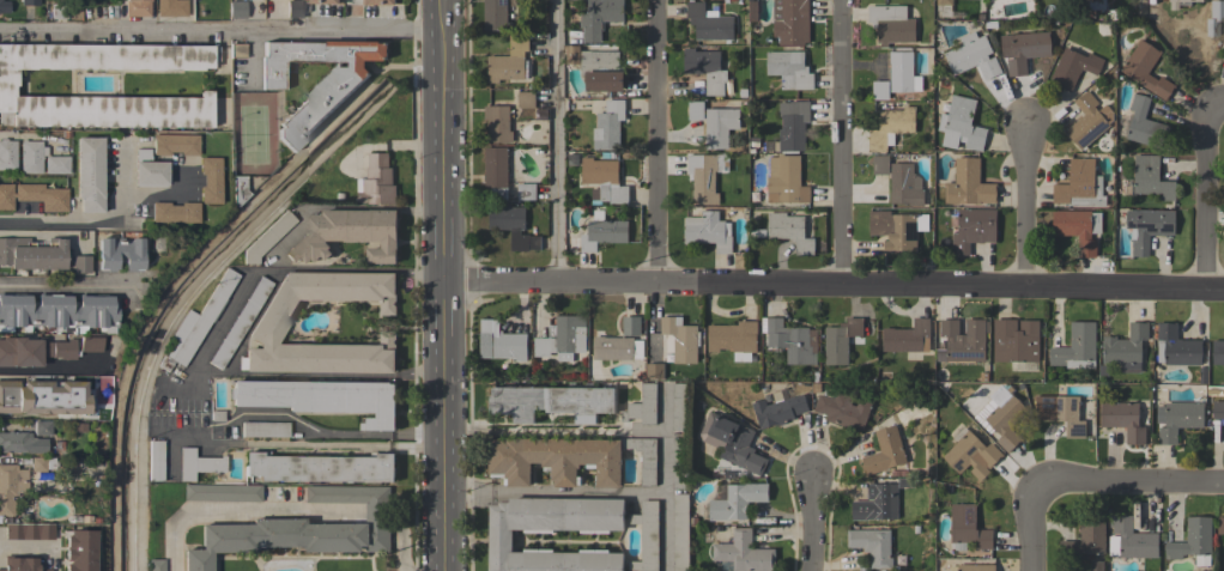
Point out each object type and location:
road: (437, 0)
building: (327, 1)
building: (378, 2)
building: (1181, 2)
building: (0, 4)
building: (1097, 5)
building: (943, 7)
building: (137, 8)
building: (170, 8)
building: (293, 8)
building: (236, 10)
building: (57, 11)
building: (495, 14)
building: (599, 18)
building: (1214, 18)
building: (790, 22)
building: (707, 23)
building: (891, 24)
road: (218, 30)
building: (1024, 49)
building: (236, 50)
building: (972, 56)
building: (509, 60)
building: (1073, 67)
building: (705, 68)
building: (789, 69)
building: (1146, 69)
building: (602, 71)
building: (902, 73)
building: (6, 89)
building: (879, 90)
building: (526, 99)
building: (315, 107)
building: (695, 110)
building: (1089, 120)
building: (497, 123)
building: (961, 124)
building: (1145, 124)
building: (608, 126)
building: (792, 126)
building: (719, 127)
building: (890, 127)
building: (175, 144)
road: (561, 144)
road: (660, 144)
road: (842, 146)
building: (7, 154)
building: (31, 157)
building: (56, 164)
building: (880, 165)
building: (147, 169)
building: (495, 171)
building: (87, 174)
building: (703, 177)
building: (1151, 178)
building: (602, 180)
building: (784, 180)
building: (208, 181)
building: (376, 181)
building: (904, 184)
building: (969, 184)
building: (1080, 186)
building: (236, 189)
building: (526, 192)
building: (34, 196)
road: (1208, 200)
building: (172, 212)
road: (1028, 213)
road: (95, 225)
building: (511, 225)
building: (1078, 227)
building: (1147, 227)
building: (974, 229)
building: (893, 230)
building: (602, 231)
building: (708, 231)
building: (790, 231)
building: (347, 235)
building: (266, 237)
building: (119, 253)
building: (31, 254)
building: (79, 265)
road: (62, 285)
road: (440, 286)
road: (831, 291)
building: (56, 310)
building: (194, 323)
building: (238, 323)
building: (269, 323)
building: (630, 326)
building: (908, 336)
building: (563, 338)
building: (733, 339)
road: (208, 340)
building: (841, 340)
building: (963, 340)
building: (499, 341)
building: (677, 341)
building: (792, 341)
building: (90, 344)
building: (1016, 344)
building: (1126, 345)
building: (1176, 346)
building: (1077, 347)
building: (617, 348)
building: (61, 350)
building: (22, 352)
building: (1218, 352)
building: (654, 370)
building: (42, 396)
building: (320, 399)
building: (552, 401)
building: (642, 406)
building: (842, 408)
building: (1218, 409)
building: (778, 411)
building: (1062, 413)
building: (1005, 417)
building: (1122, 419)
building: (1180, 420)
building: (77, 427)
building: (42, 429)
building: (263, 429)
road: (328, 431)
road: (552, 432)
building: (680, 432)
building: (732, 442)
building: (20, 443)
road: (295, 444)
building: (884, 451)
building: (970, 454)
building: (153, 460)
building: (569, 460)
building: (37, 464)
building: (196, 464)
building: (320, 468)
road: (665, 478)
road: (1133, 484)
building: (11, 486)
building: (222, 492)
building: (737, 500)
building: (877, 503)
road: (241, 509)
road: (377, 518)
building: (1220, 524)
road: (811, 526)
road: (1041, 527)
building: (968, 528)
building: (301, 529)
building: (28, 531)
building: (681, 531)
building: (647, 536)
building: (1131, 540)
building: (499, 541)
building: (1087, 541)
building: (1193, 541)
road: (25, 546)
road: (401, 546)
building: (874, 546)
building: (78, 551)
building: (744, 553)
building: (20, 563)
building: (154, 565)
building: (971, 567)

